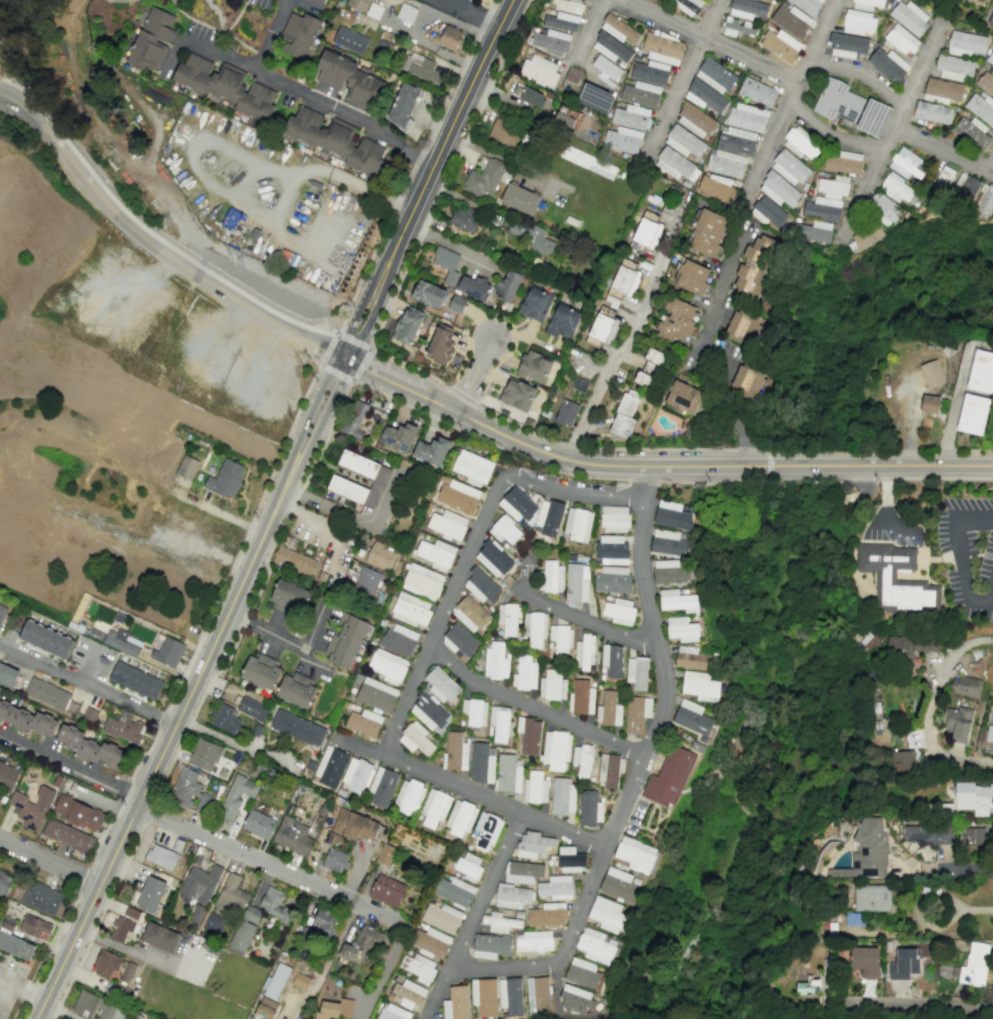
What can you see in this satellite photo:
building: (321, 0)
building: (359, 4)
road: (467, 4)
building: (866, 4)
building: (687, 5)
building: (807, 5)
building: (567, 6)
parking lot: (452, 7)
building: (747, 8)
building: (374, 10)
road: (472, 12)
building: (909, 17)
building: (990, 19)
building: (791, 20)
building: (562, 21)
road: (417, 23)
building: (858, 23)
road: (589, 27)
building: (736, 27)
building: (619, 29)
road: (271, 34)
building: (299, 35)
building: (448, 37)
road: (709, 38)
building: (152, 39)
building: (901, 39)
building: (350, 40)
building: (550, 41)
building: (966, 43)
building: (780, 45)
building: (847, 45)
building: (612, 48)
building: (663, 49)
road: (11, 58)
building: (989, 59)
building: (888, 65)
road: (683, 67)
building: (420, 68)
building: (954, 68)
building: (540, 70)
building: (606, 70)
building: (650, 72)
road: (865, 73)
road: (919, 73)
building: (715, 75)
building: (348, 80)
building: (986, 82)
road: (17, 84)
building: (225, 86)
road: (292, 87)
road: (789, 87)
building: (943, 88)
road: (1, 91)
building: (757, 91)
building: (641, 94)
building: (529, 95)
building: (705, 96)
building: (595, 98)
building: (935, 99)
building: (837, 101)
building: (403, 105)
building: (980, 108)
building: (932, 112)
building: (630, 116)
building: (747, 117)
building: (873, 117)
building: (564, 120)
building: (695, 120)
road: (454, 121)
building: (504, 132)
building: (971, 132)
road: (832, 137)
building: (334, 140)
building: (622, 140)
building: (684, 141)
building: (736, 141)
building: (800, 144)
road: (948, 153)
road: (506, 159)
building: (588, 162)
building: (844, 162)
building: (725, 163)
building: (676, 165)
building: (907, 165)
road: (412, 167)
building: (789, 167)
road: (450, 175)
building: (484, 178)
building: (941, 182)
road: (350, 183)
building: (832, 186)
building: (715, 187)
road: (863, 187)
building: (964, 188)
building: (898, 189)
building: (778, 190)
building: (520, 198)
building: (984, 202)
building: (883, 208)
building: (821, 209)
building: (767, 212)
building: (464, 218)
building: (815, 231)
road: (148, 232)
building: (646, 232)
building: (707, 233)
building: (867, 235)
building: (531, 237)
road: (167, 240)
road: (151, 246)
building: (446, 263)
building: (754, 265)
building: (691, 277)
building: (622, 284)
building: (507, 286)
building: (474, 287)
building: (427, 294)
road: (364, 297)
road: (377, 303)
building: (456, 304)
building: (535, 304)
building: (563, 321)
building: (676, 322)
building: (407, 325)
building: (743, 326)
building: (602, 327)
road: (633, 333)
building: (440, 343)
road: (369, 349)
road: (716, 350)
road: (344, 357)
building: (534, 366)
building: (648, 368)
building: (981, 371)
building: (931, 373)
road: (475, 377)
road: (395, 382)
building: (747, 382)
building: (579, 384)
building: (517, 394)
road: (462, 395)
building: (683, 397)
building: (929, 404)
road: (954, 405)
road: (486, 412)
building: (566, 412)
building: (624, 414)
building: (972, 414)
road: (308, 419)
building: (354, 420)
road: (319, 424)
building: (398, 436)
building: (431, 450)
road: (811, 453)
road: (911, 453)
building: (358, 463)
road: (810, 465)
road: (911, 465)
road: (609, 466)
road: (768, 466)
building: (186, 467)
building: (472, 467)
road: (562, 473)
road: (911, 478)
building: (225, 479)
road: (810, 479)
building: (376, 487)
building: (347, 489)
road: (886, 495)
building: (458, 496)
building: (517, 504)
road: (216, 511)
building: (671, 515)
building: (549, 517)
building: (614, 519)
road: (360, 520)
building: (447, 524)
building: (577, 524)
road: (891, 526)
parking lot: (891, 527)
building: (504, 530)
road: (242, 537)
building: (669, 542)
building: (611, 549)
road: (469, 551)
building: (436, 554)
parking lot: (967, 554)
building: (379, 556)
building: (493, 559)
road: (960, 559)
building: (294, 560)
building: (670, 571)
building: (552, 576)
building: (884, 576)
building: (611, 579)
building: (366, 581)
building: (422, 581)
building: (576, 583)
building: (481, 586)
road: (258, 592)
building: (288, 596)
building: (678, 601)
building: (411, 609)
building: (2, 611)
building: (618, 611)
building: (470, 614)
building: (507, 618)
road: (592, 626)
building: (534, 628)
building: (681, 629)
road: (267, 632)
building: (45, 638)
building: (399, 639)
building: (560, 639)
building: (345, 640)
building: (459, 640)
building: (121, 642)
building: (866, 642)
building: (910, 646)
building: (167, 652)
building: (584, 653)
building: (690, 658)
building: (495, 660)
building: (611, 660)
road: (659, 664)
building: (387, 665)
building: (261, 671)
building: (524, 672)
building: (636, 672)
building: (8, 674)
building: (135, 680)
road: (87, 681)
building: (441, 684)
building: (552, 685)
building: (964, 685)
building: (700, 686)
building: (296, 690)
building: (374, 694)
building: (50, 696)
building: (582, 697)
building: (252, 708)
road: (529, 709)
building: (608, 709)
building: (428, 712)
building: (474, 712)
building: (636, 713)
building: (224, 718)
building: (692, 718)
building: (27, 719)
road: (162, 719)
building: (363, 723)
building: (499, 723)
building: (957, 723)
building: (297, 727)
building: (125, 729)
building: (989, 730)
road: (928, 733)
building: (529, 735)
building: (415, 738)
building: (89, 747)
building: (555, 749)
building: (455, 751)
road: (160, 753)
building: (204, 754)
building: (582, 760)
building: (902, 761)
road: (70, 762)
building: (481, 762)
building: (330, 767)
building: (609, 770)
building: (356, 774)
building: (507, 774)
building: (7, 775)
building: (669, 777)
building: (382, 786)
building: (534, 787)
building: (190, 791)
building: (562, 795)
building: (408, 796)
road: (125, 797)
building: (235, 797)
building: (974, 797)
road: (493, 802)
building: (434, 807)
building: (32, 808)
building: (589, 808)
building: (78, 812)
road: (149, 812)
building: (459, 817)
building: (258, 824)
building: (353, 825)
building: (486, 830)
building: (928, 834)
building: (67, 835)
building: (292, 835)
building: (972, 836)
building: (533, 844)
building: (866, 850)
building: (385, 854)
building: (637, 854)
building: (161, 856)
building: (570, 859)
building: (335, 860)
road: (47, 864)
road: (267, 866)
building: (468, 866)
road: (943, 866)
building: (522, 871)
road: (86, 874)
building: (4, 882)
building: (619, 885)
road: (80, 886)
building: (555, 887)
building: (198, 890)
building: (386, 890)
building: (454, 891)
building: (151, 894)
building: (230, 894)
building: (512, 896)
building: (41, 897)
building: (872, 897)
building: (274, 904)
road: (965, 908)
building: (607, 914)
building: (547, 915)
road: (472, 916)
building: (441, 917)
building: (324, 920)
road: (97, 921)
building: (499, 922)
building: (213, 924)
building: (34, 926)
building: (121, 929)
building: (244, 929)
building: (160, 937)
road: (340, 937)
building: (431, 941)
building: (534, 941)
building: (362, 942)
building: (15, 946)
building: (489, 946)
building: (594, 946)
road: (47, 954)
road: (559, 959)
building: (865, 961)
building: (106, 963)
building: (903, 964)
building: (972, 965)
building: (418, 967)
building: (127, 972)
building: (582, 973)
parking lot: (8, 980)
building: (300, 981)
road: (22, 983)
building: (807, 986)
road: (4, 987)
building: (408, 993)
building: (537, 995)
building: (484, 996)
building: (510, 996)
building: (574, 999)
road: (913, 1002)
building: (456, 1003)
building: (97, 1007)
building: (264, 1009)
building: (335, 1009)
road: (58, 1010)
building: (392, 1012)

